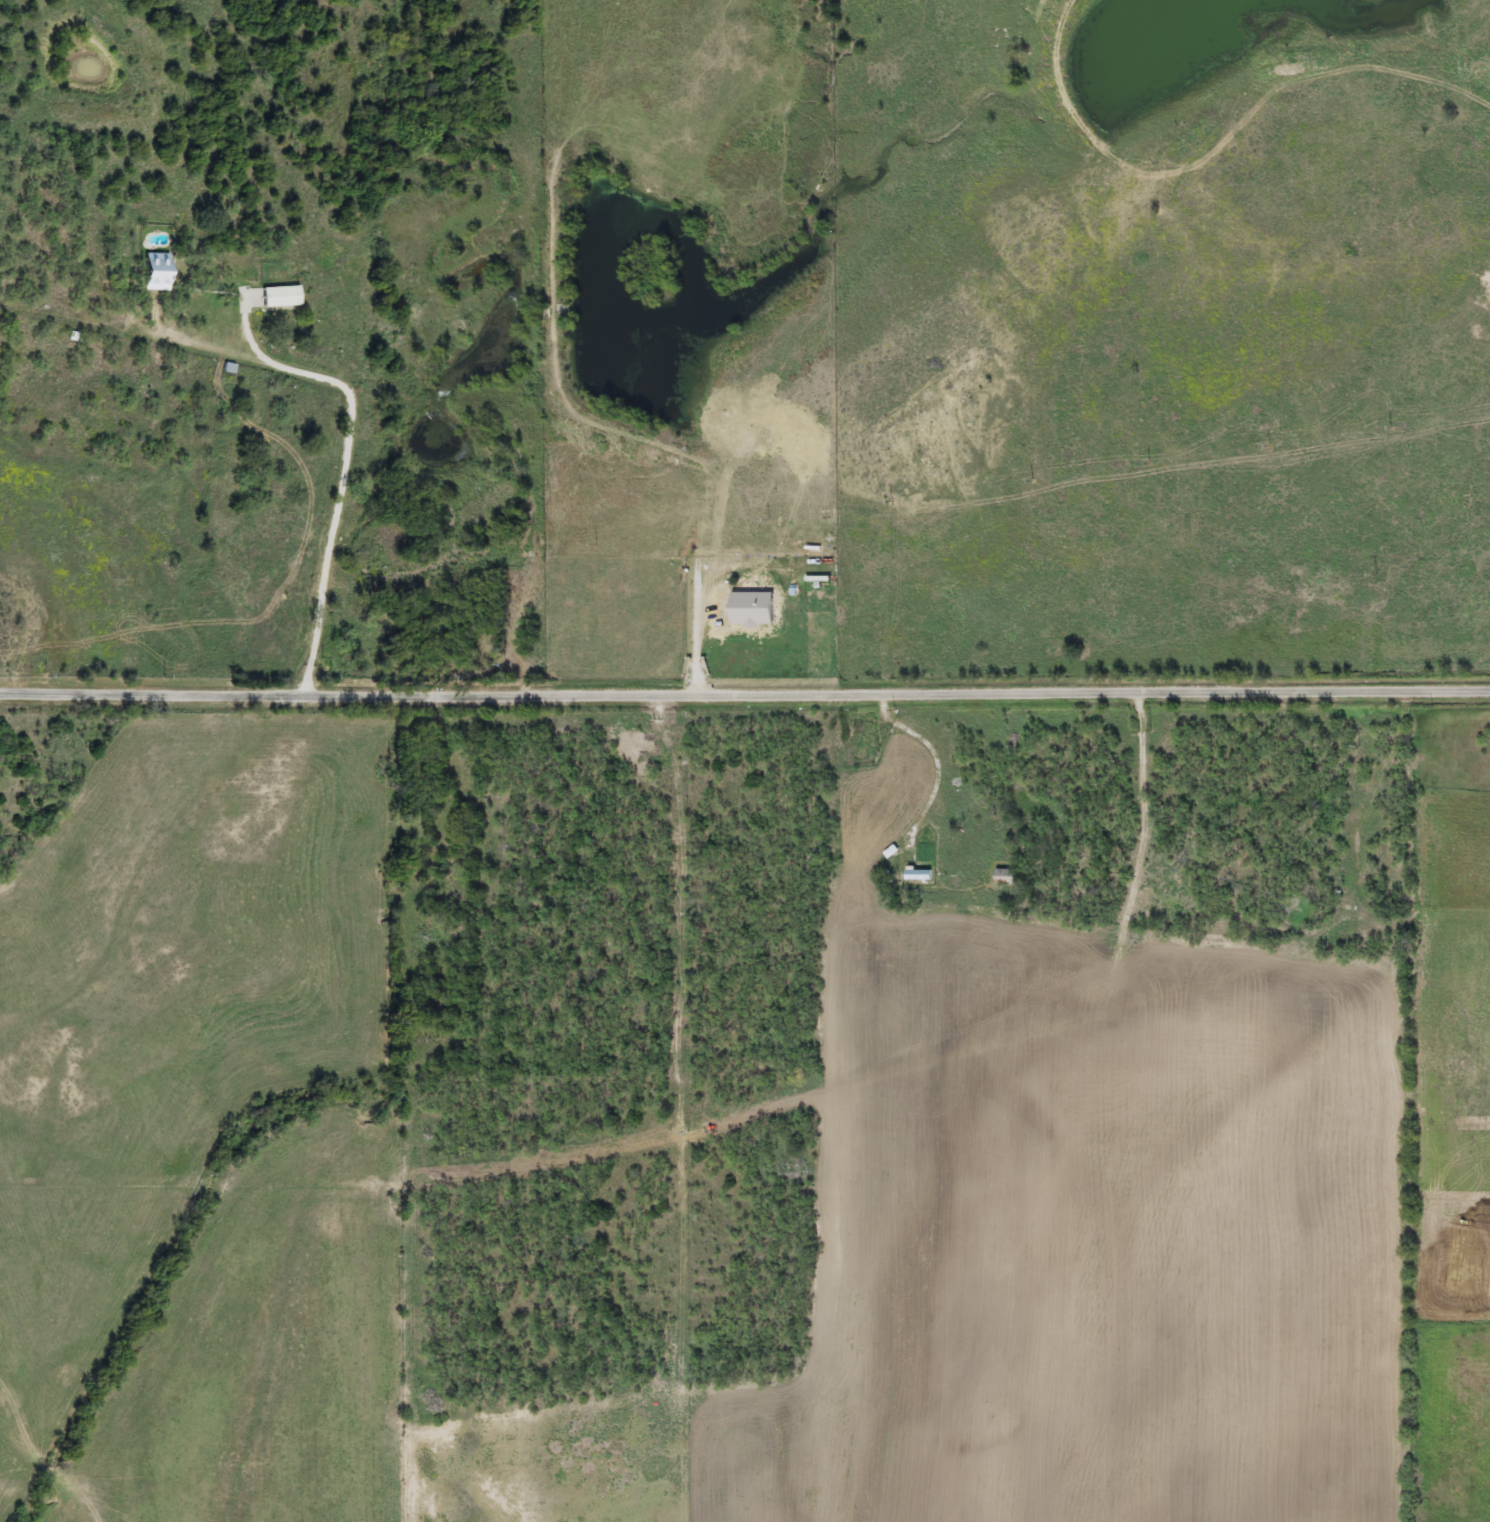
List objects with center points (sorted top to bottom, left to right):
building: (160, 273)
building: (281, 297)
road: (745, 692)
building: (1007, 878)

